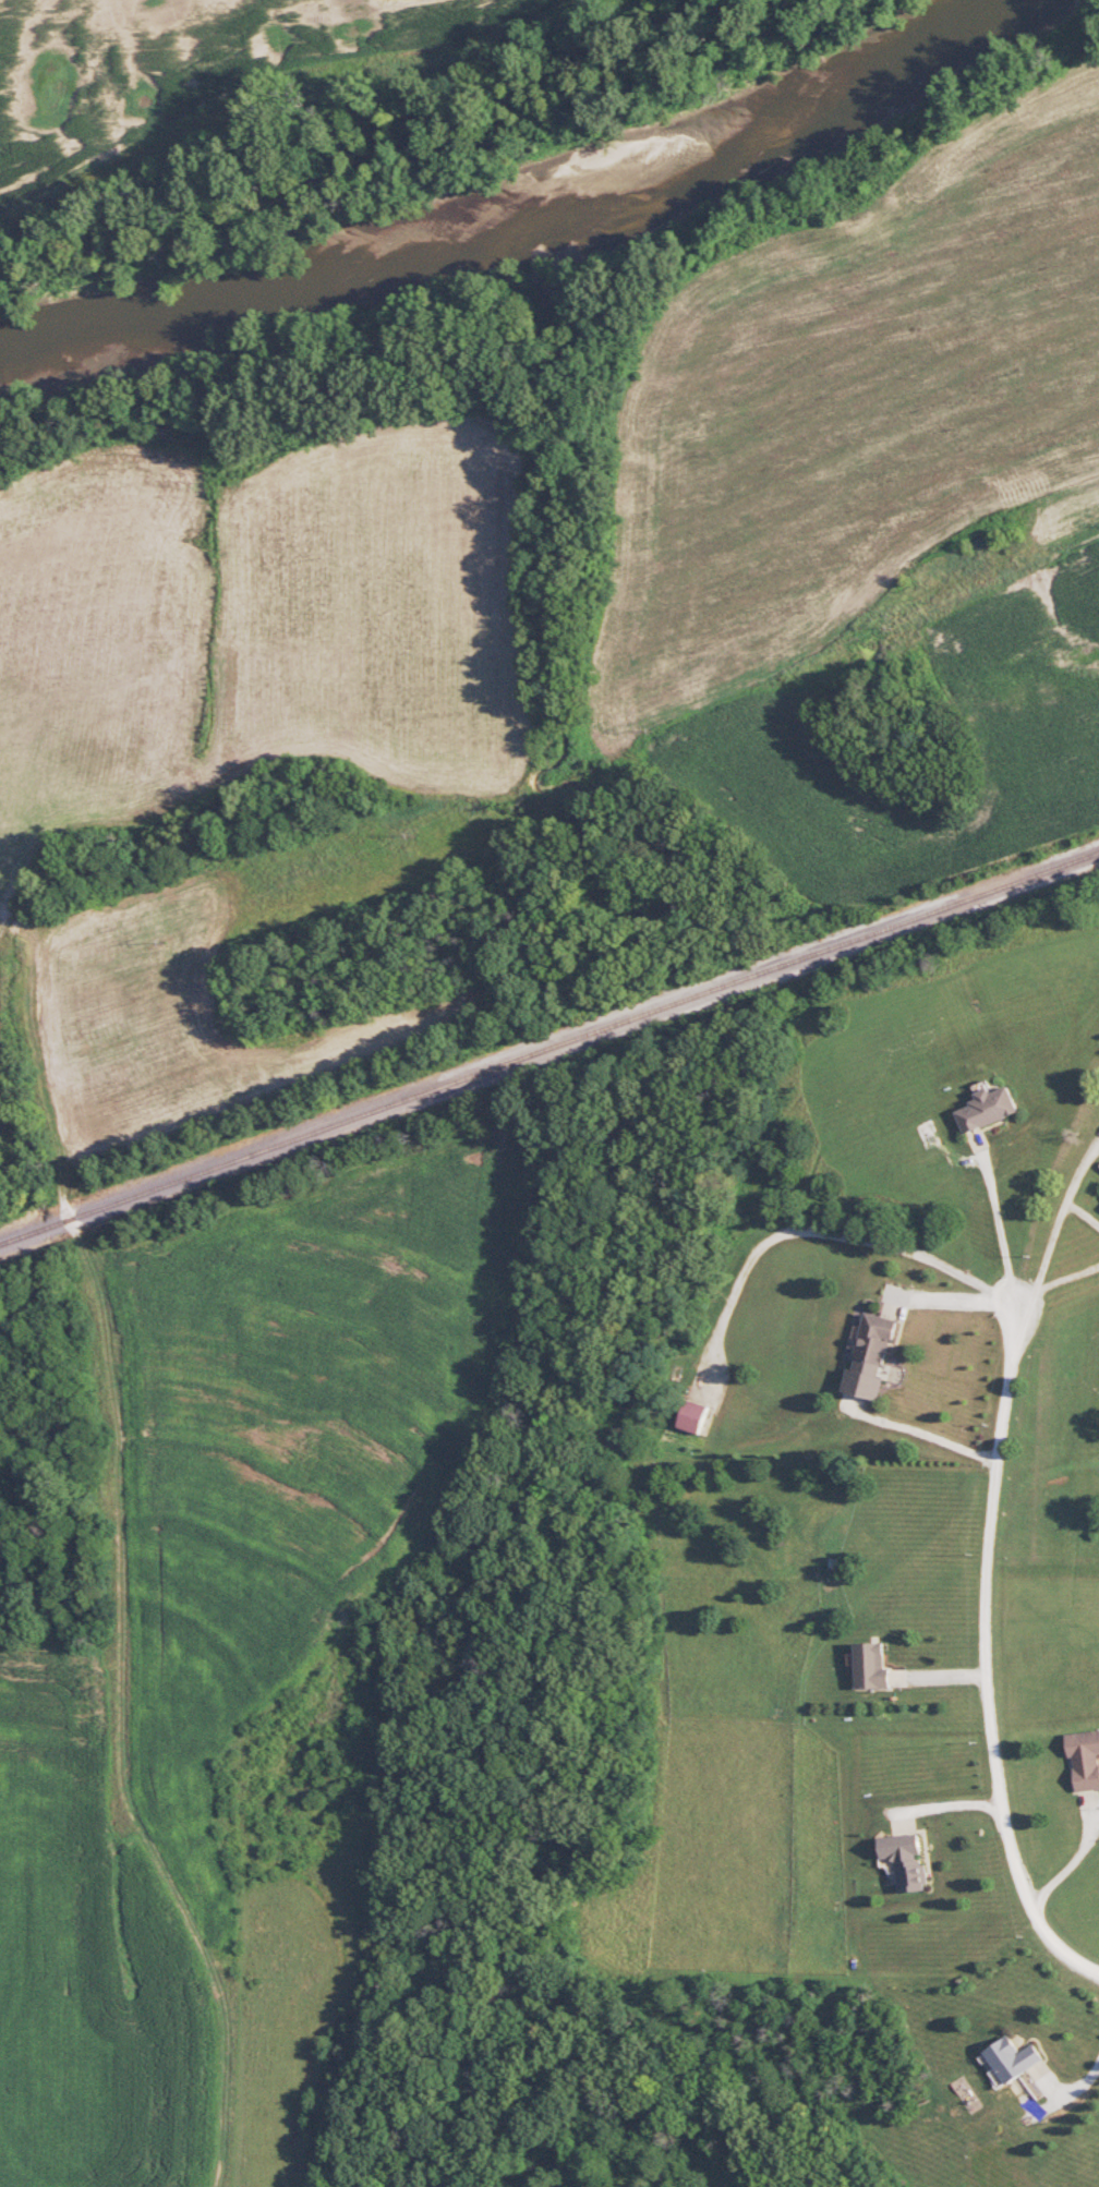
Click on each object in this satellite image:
river: (517, 217)
railway: (549, 1047)
building: (982, 1107)
road: (1056, 1222)
road: (958, 1293)
building: (869, 1357)
building: (689, 1414)
road: (987, 1660)
building: (867, 1664)
building: (1082, 1757)
building: (901, 1860)
road: (1079, 1860)
building: (1011, 2063)
road: (1078, 2091)

